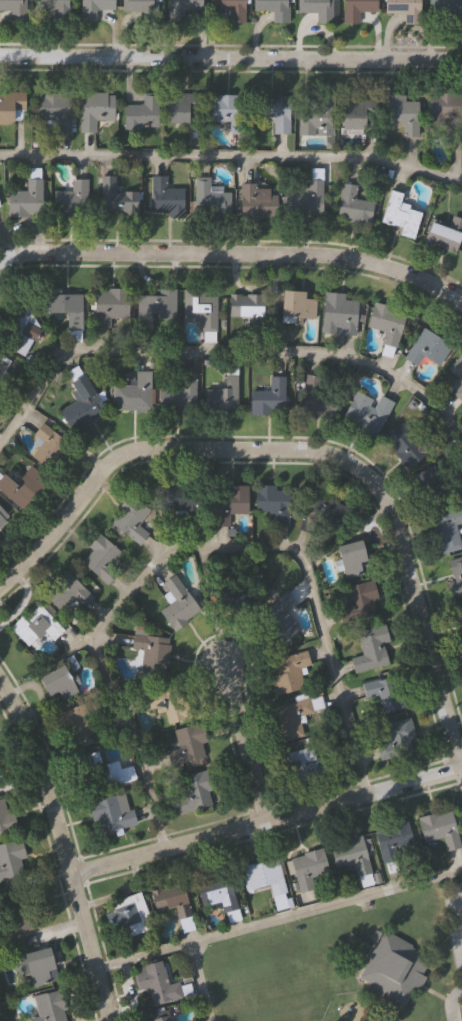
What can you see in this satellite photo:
building: (139, 6)
building: (183, 7)
building: (52, 8)
building: (14, 9)
building: (94, 9)
building: (230, 9)
building: (273, 9)
building: (316, 9)
building: (355, 9)
building: (404, 10)
building: (445, 12)
road: (231, 58)
building: (180, 106)
building: (12, 108)
building: (54, 109)
building: (94, 110)
building: (445, 110)
building: (229, 112)
building: (272, 112)
building: (356, 114)
building: (400, 114)
building: (141, 115)
building: (317, 118)
road: (232, 155)
building: (209, 197)
building: (115, 199)
building: (166, 199)
building: (305, 200)
building: (26, 201)
building: (72, 201)
building: (253, 201)
building: (353, 207)
building: (396, 212)
building: (443, 235)
road: (232, 252)
road: (457, 302)
building: (296, 306)
building: (110, 307)
building: (66, 309)
building: (200, 309)
building: (248, 309)
building: (155, 310)
building: (338, 315)
building: (384, 325)
building: (24, 339)
building: (426, 349)
road: (219, 350)
building: (3, 374)
building: (457, 377)
building: (133, 394)
building: (182, 395)
building: (222, 397)
building: (317, 397)
building: (261, 403)
building: (81, 405)
building: (366, 412)
building: (404, 445)
road: (299, 447)
building: (51, 452)
building: (437, 484)
building: (20, 487)
building: (179, 503)
building: (227, 504)
building: (272, 504)
building: (320, 514)
building: (3, 518)
building: (131, 521)
building: (446, 530)
road: (182, 544)
building: (103, 559)
building: (350, 559)
building: (455, 576)
building: (67, 596)
building: (360, 598)
road: (20, 603)
building: (177, 605)
building: (280, 616)
building: (459, 616)
building: (31, 627)
building: (370, 650)
building: (151, 654)
building: (288, 672)
building: (57, 684)
building: (383, 694)
building: (168, 706)
building: (293, 717)
building: (77, 728)
building: (397, 741)
road: (248, 742)
building: (186, 745)
building: (306, 767)
building: (100, 773)
building: (1, 777)
building: (192, 794)
building: (110, 813)
building: (6, 818)
road: (267, 820)
building: (439, 830)
building: (393, 842)
road: (65, 847)
building: (349, 855)
building: (10, 858)
building: (307, 869)
building: (262, 878)
building: (215, 893)
building: (175, 905)
building: (128, 914)
road: (280, 916)
building: (38, 966)
building: (393, 966)
road: (196, 981)
building: (155, 983)
road: (451, 1003)
building: (49, 1006)
park: (3, 1012)
building: (157, 1016)

